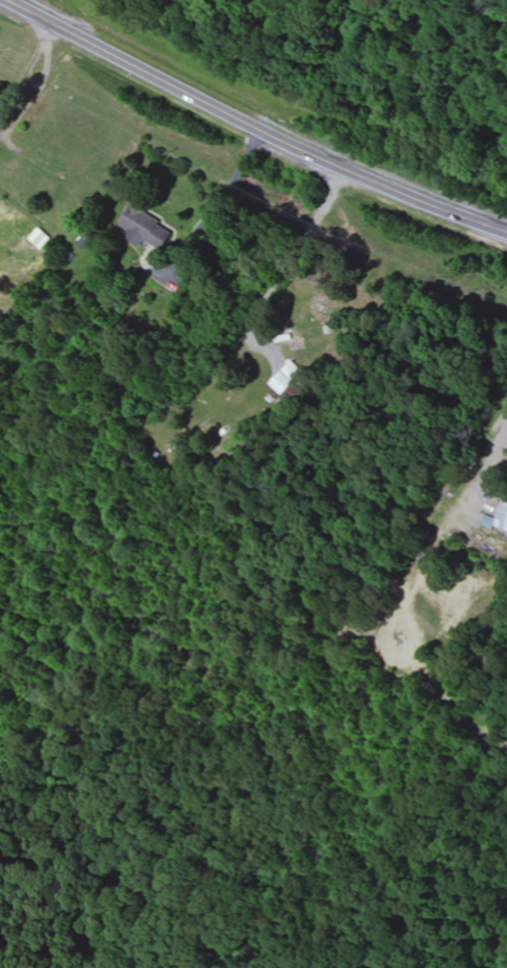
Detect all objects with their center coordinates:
road: (252, 126)
road: (141, 198)
building: (147, 229)
building: (38, 238)
building: (307, 332)
building: (287, 383)
building: (503, 518)
park: (228, 733)

